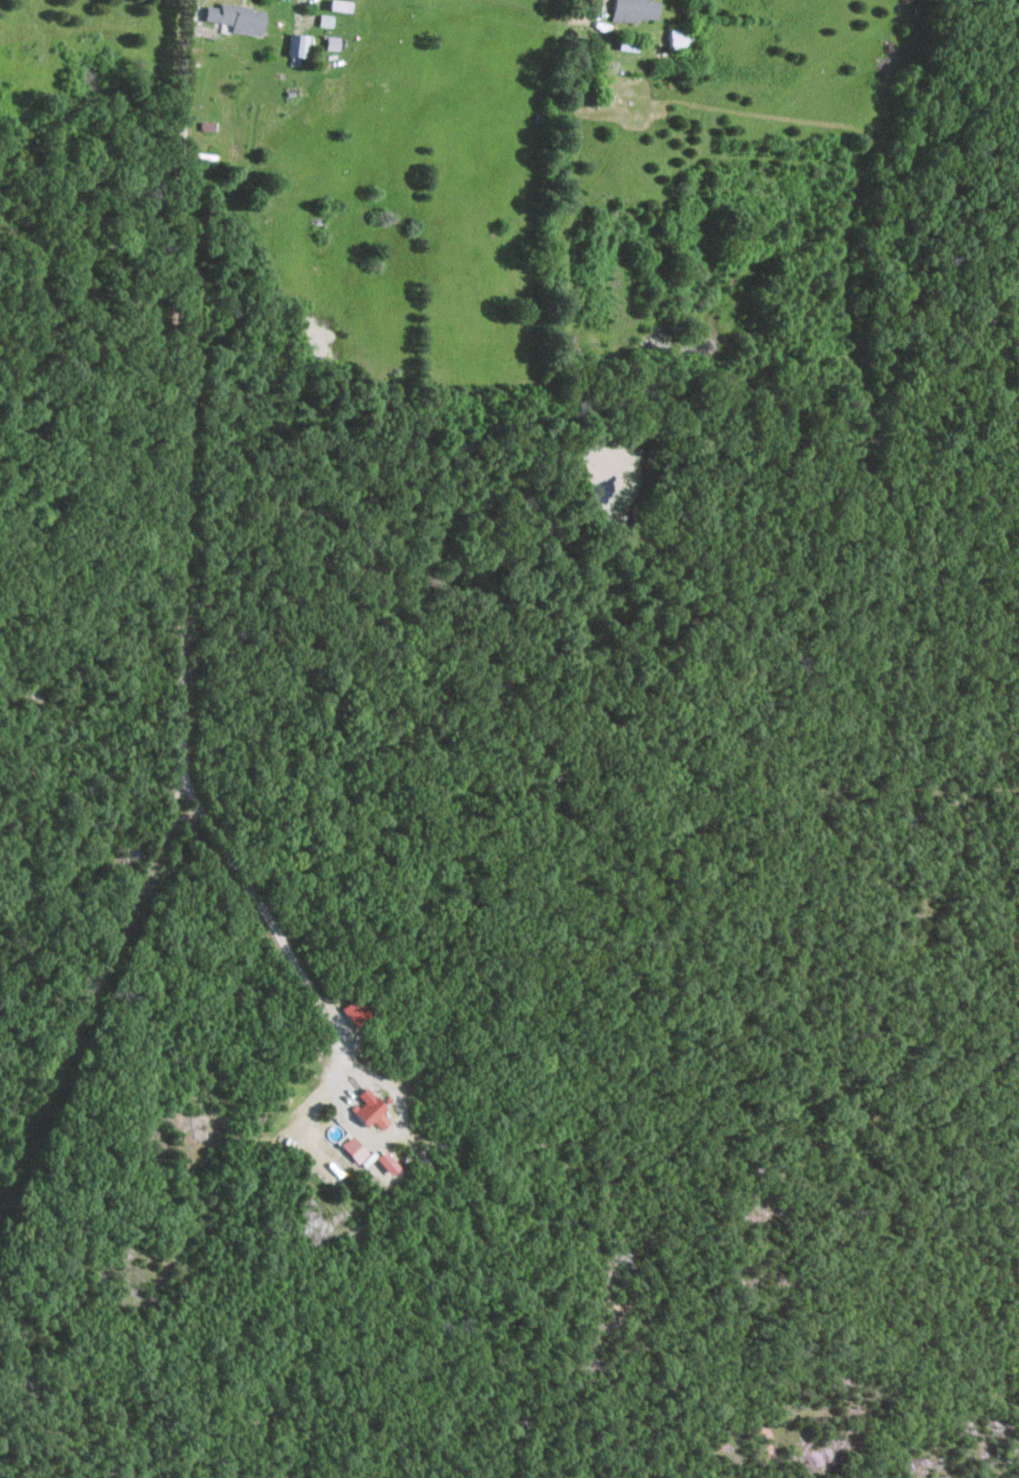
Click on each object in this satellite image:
building: (631, 12)
building: (232, 20)
building: (674, 42)
building: (294, 53)
building: (347, 1077)

